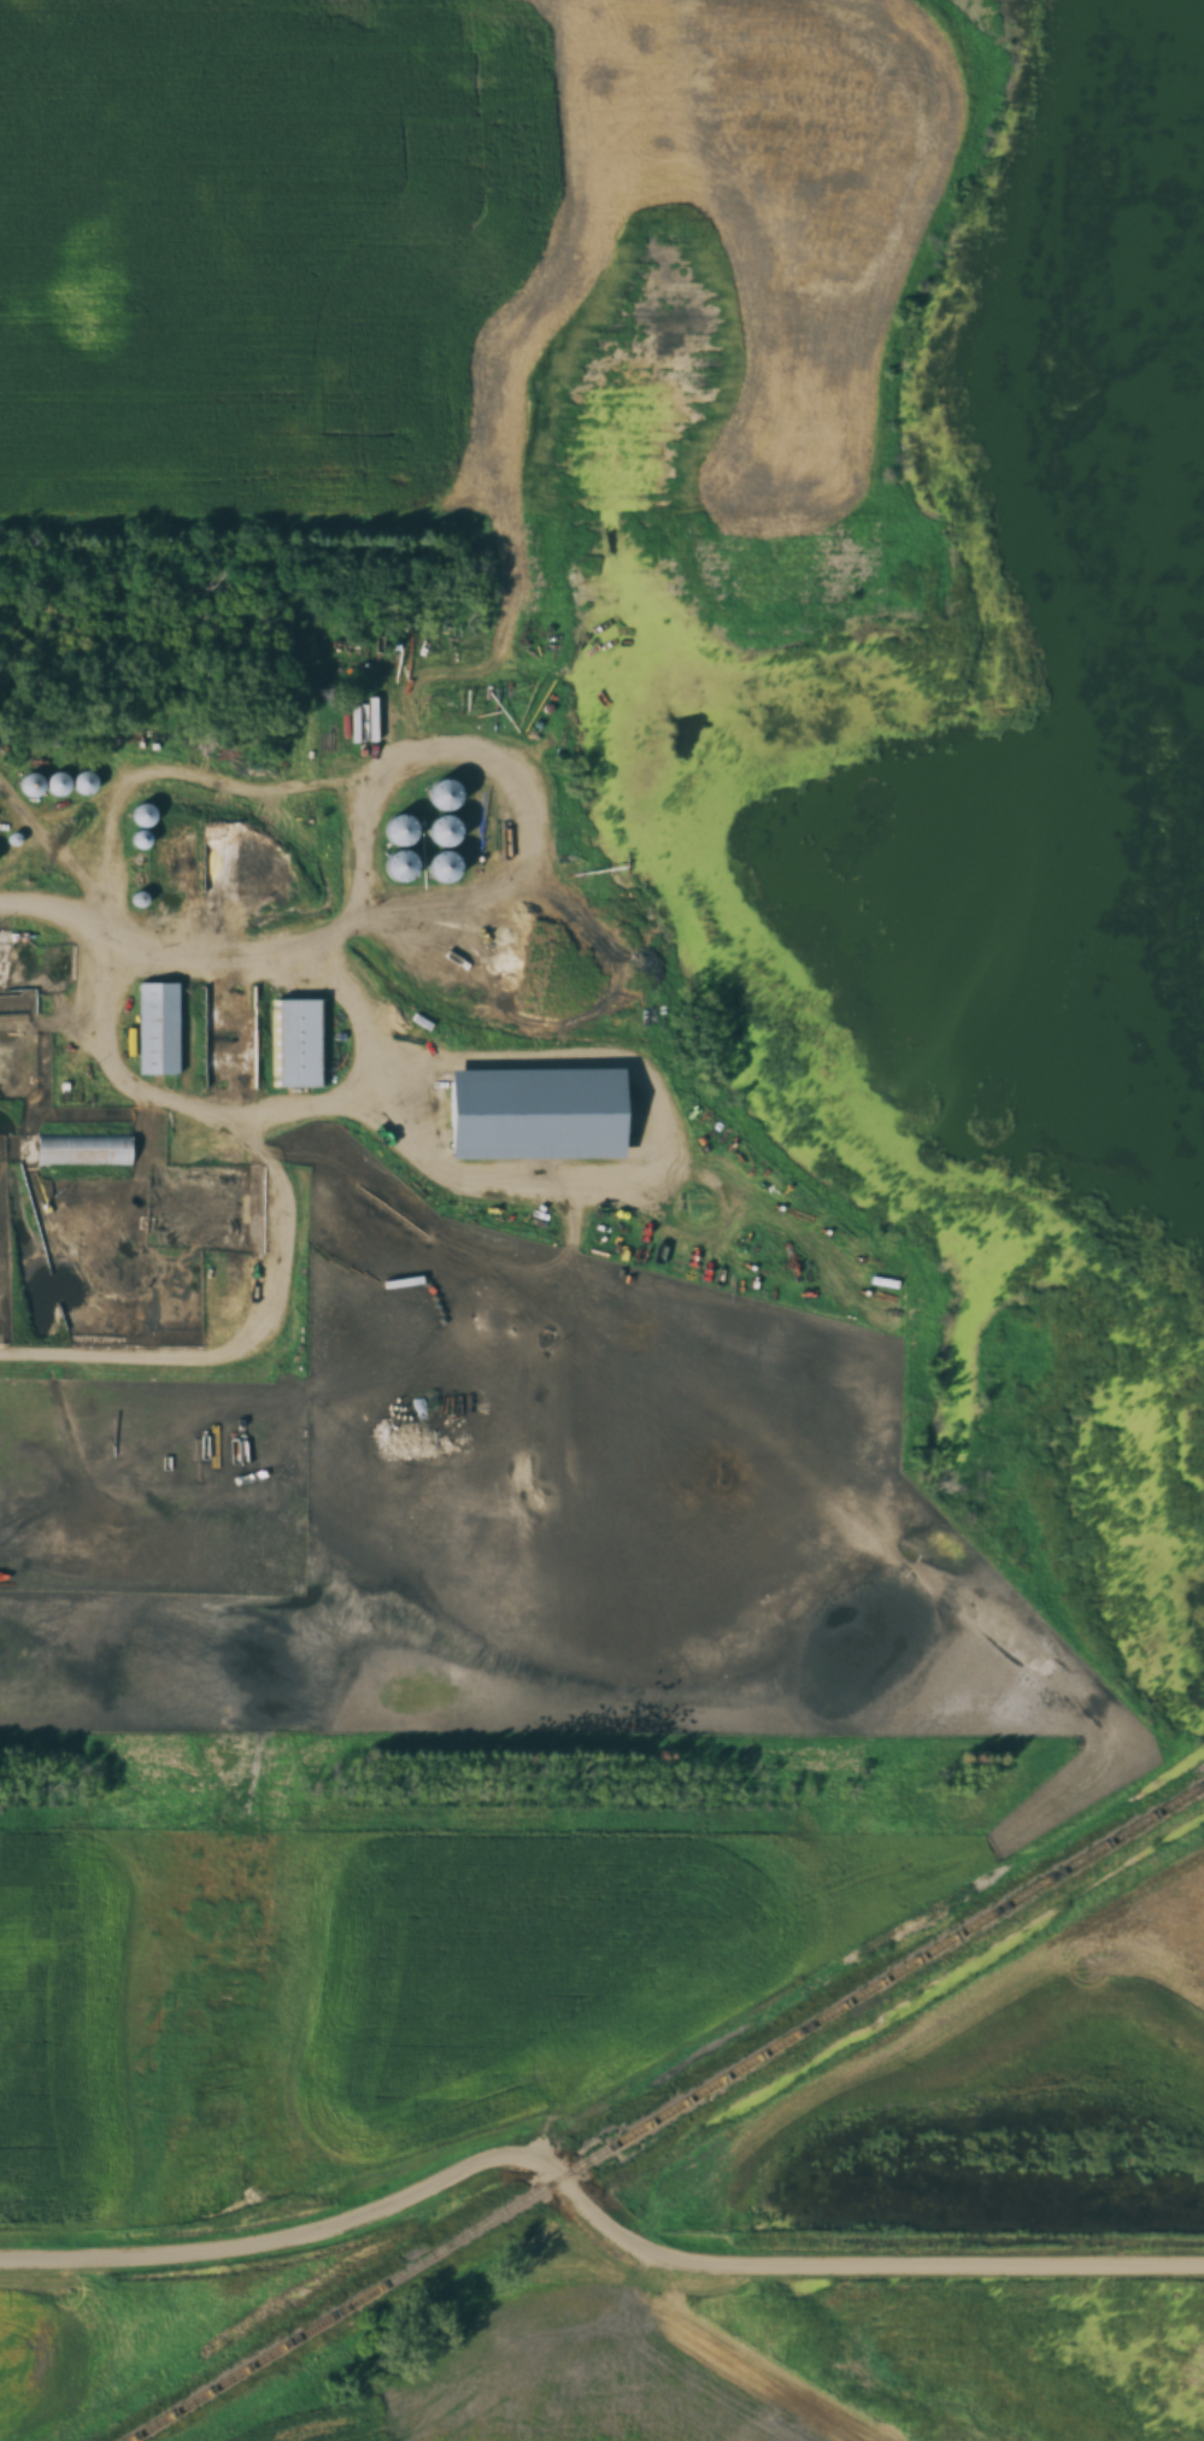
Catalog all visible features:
building: (81, 784)
building: (40, 786)
building: (436, 793)
building: (140, 816)
building: (393, 828)
building: (435, 828)
building: (392, 863)
building: (436, 864)
building: (159, 1025)
building: (300, 1038)
building: (536, 1109)
building: (92, 1144)
building: (105, 1455)
railway: (668, 2114)
road: (591, 2201)

